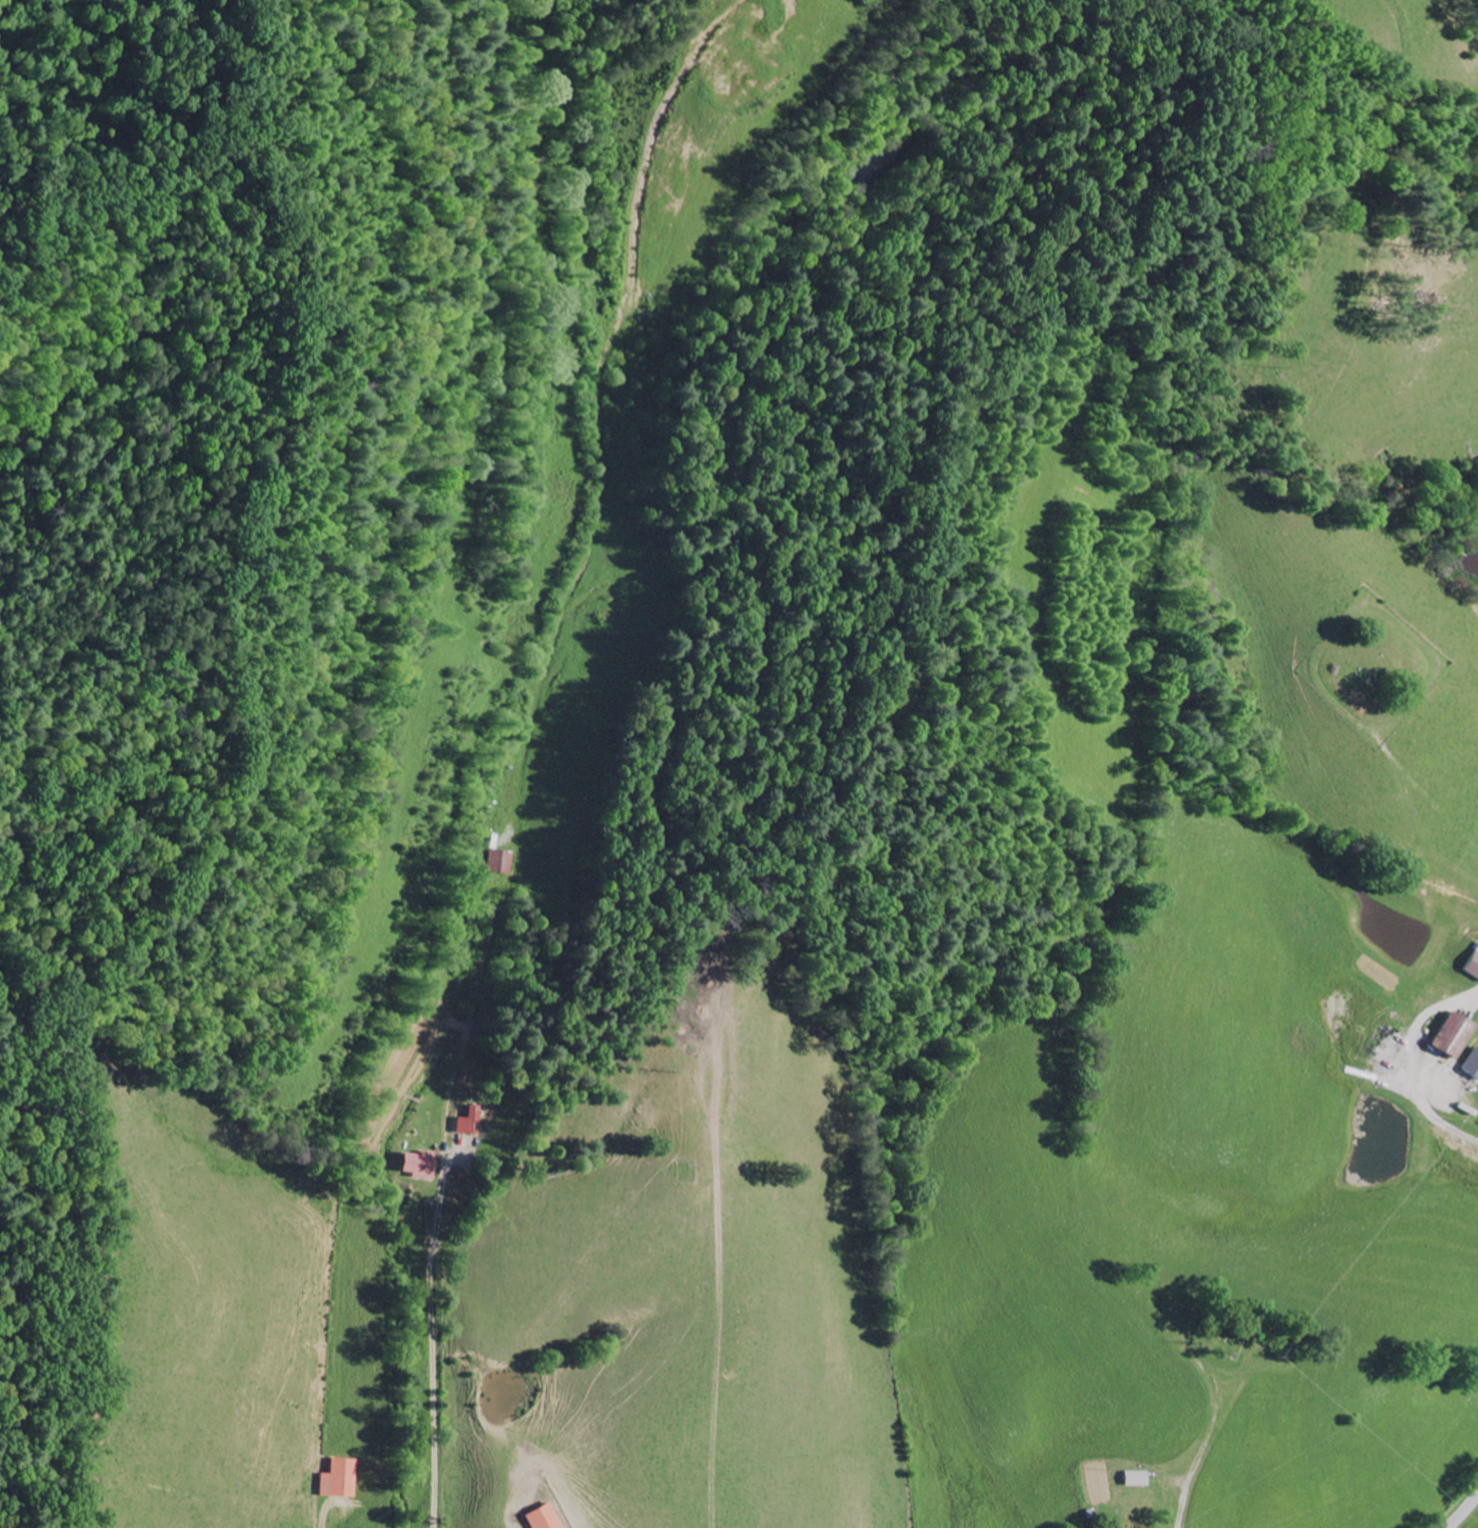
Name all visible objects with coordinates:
building: (497, 863)
building: (1472, 966)
building: (1450, 1037)
building: (1472, 1066)
building: (468, 1123)
building: (417, 1166)
road: (1210, 1427)
building: (1134, 1480)
building: (339, 1481)
road: (1463, 1511)
building: (539, 1518)

